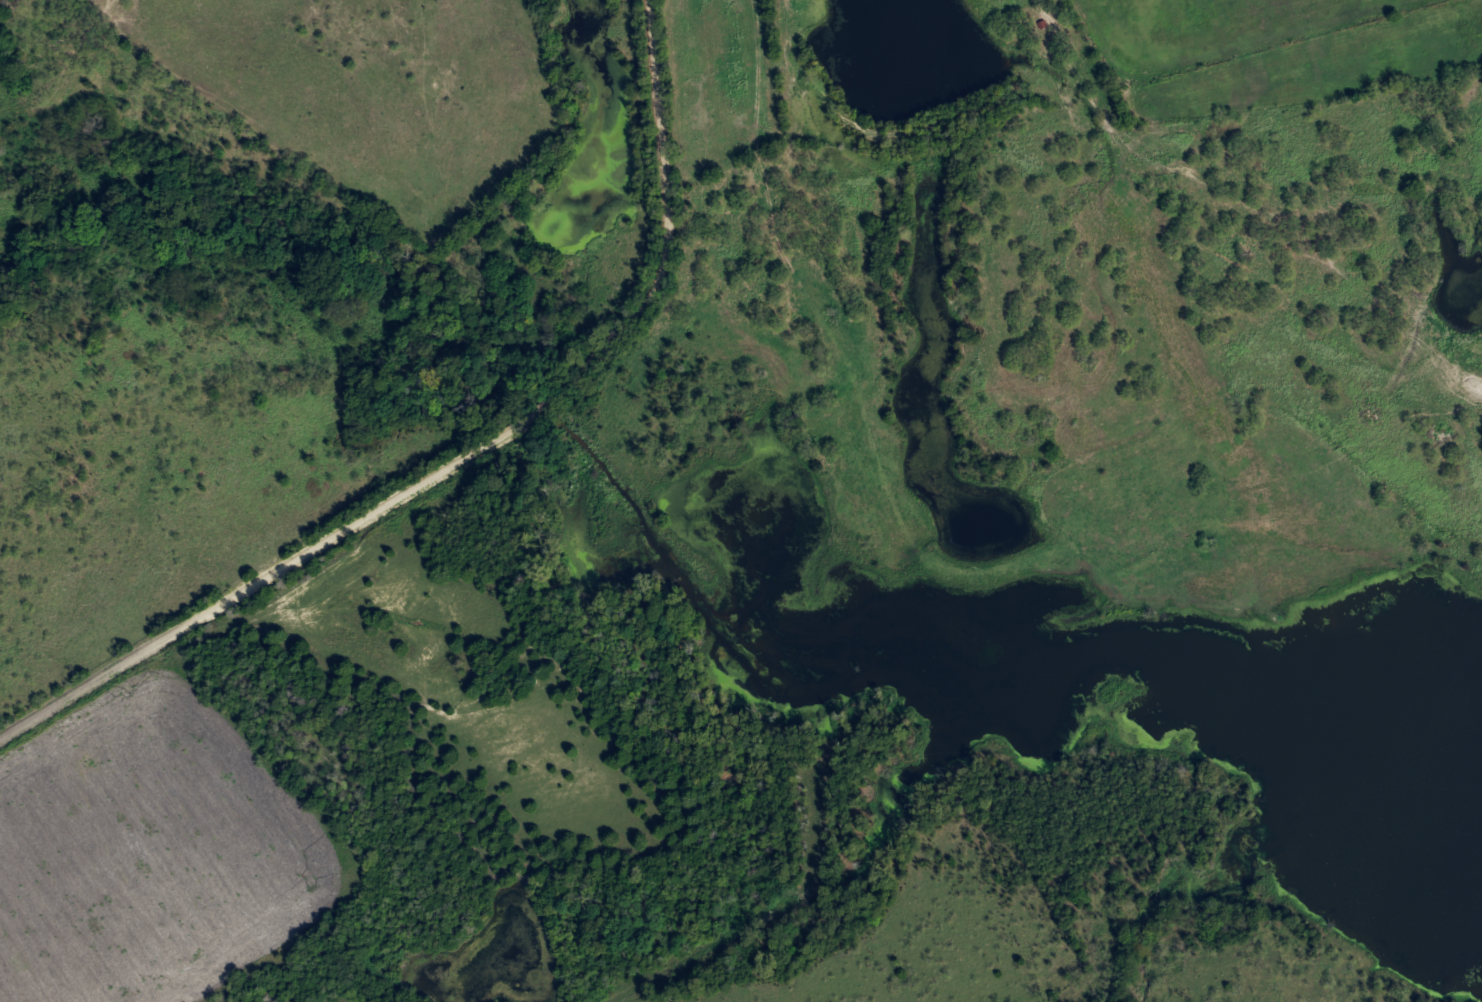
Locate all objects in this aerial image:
road: (466, 455)

